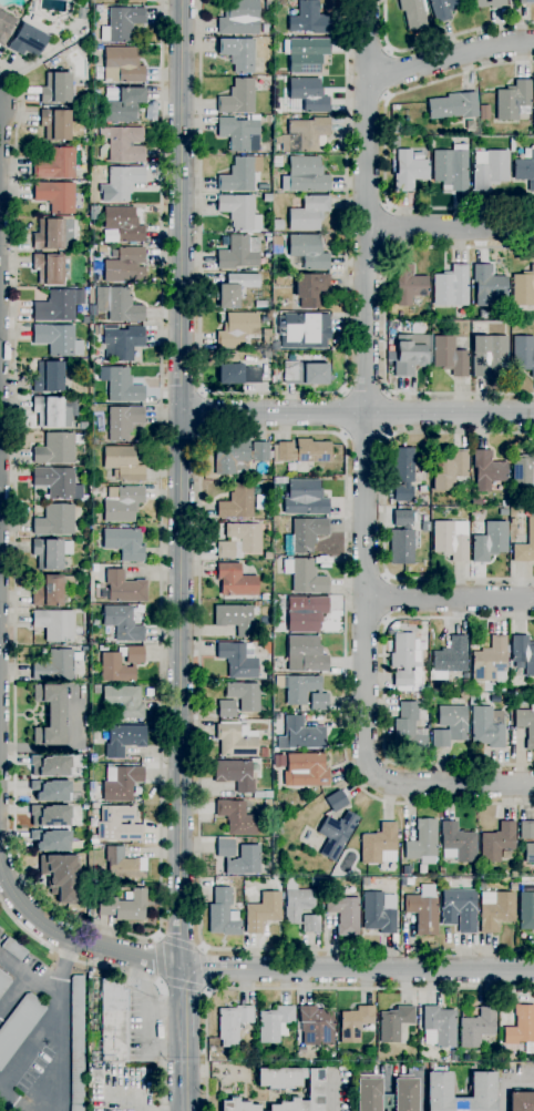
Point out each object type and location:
building: (135, 1)
building: (525, 1)
building: (489, 3)
building: (267, 6)
building: (444, 8)
building: (51, 12)
building: (413, 14)
building: (239, 18)
building: (309, 19)
building: (121, 23)
building: (6, 27)
building: (27, 40)
road: (437, 41)
building: (238, 54)
building: (305, 54)
road: (449, 57)
building: (122, 65)
road: (388, 74)
building: (55, 89)
building: (308, 94)
building: (533, 96)
building: (237, 98)
building: (513, 101)
building: (124, 105)
building: (453, 106)
building: (483, 112)
building: (96, 115)
building: (54, 124)
building: (469, 124)
building: (533, 128)
building: (237, 131)
building: (277, 131)
building: (305, 134)
building: (396, 142)
building: (123, 143)
road: (386, 149)
building: (55, 164)
building: (451, 169)
building: (489, 169)
building: (524, 170)
building: (409, 171)
building: (237, 175)
building: (305, 175)
building: (121, 183)
building: (55, 196)
building: (266, 197)
building: (93, 212)
building: (239, 212)
building: (308, 213)
building: (123, 223)
road: (387, 227)
road: (450, 227)
building: (53, 234)
building: (276, 244)
building: (238, 252)
building: (307, 252)
building: (125, 266)
building: (48, 268)
building: (278, 278)
building: (486, 284)
building: (408, 285)
building: (450, 286)
building: (235, 288)
building: (523, 288)
building: (310, 289)
building: (284, 303)
building: (58, 306)
building: (123, 306)
road: (384, 320)
building: (99, 329)
building: (237, 329)
building: (305, 330)
building: (58, 340)
building: (122, 343)
building: (523, 353)
building: (410, 354)
building: (487, 354)
building: (267, 355)
building: (449, 356)
building: (236, 373)
building: (305, 374)
building: (275, 376)
building: (48, 377)
road: (366, 383)
building: (120, 385)
road: (364, 391)
road: (273, 393)
building: (51, 411)
road: (342, 412)
road: (203, 414)
road: (357, 414)
road: (388, 414)
building: (123, 421)
building: (81, 426)
road: (364, 435)
building: (58, 448)
building: (304, 451)
building: (238, 457)
building: (122, 463)
building: (523, 469)
building: (449, 470)
building: (486, 470)
building: (402, 473)
building: (57, 482)
road: (179, 482)
building: (421, 489)
building: (83, 498)
building: (304, 498)
building: (236, 502)
building: (122, 503)
road: (384, 506)
building: (267, 511)
road: (199, 519)
building: (54, 520)
building: (512, 521)
building: (305, 534)
building: (244, 536)
building: (401, 538)
building: (450, 539)
building: (490, 541)
building: (124, 543)
building: (525, 546)
building: (225, 550)
building: (50, 552)
building: (267, 557)
building: (94, 568)
building: (83, 570)
building: (305, 577)
building: (84, 578)
building: (235, 580)
building: (122, 588)
building: (51, 590)
building: (264, 597)
road: (449, 597)
road: (387, 598)
building: (305, 613)
building: (235, 619)
building: (122, 623)
building: (54, 624)
building: (523, 653)
building: (305, 654)
building: (449, 659)
building: (238, 660)
building: (490, 661)
building: (405, 663)
building: (120, 664)
building: (54, 666)
building: (464, 684)
building: (476, 687)
building: (300, 689)
road: (383, 691)
building: (244, 695)
building: (424, 695)
building: (463, 695)
building: (473, 697)
building: (123, 701)
building: (319, 702)
building: (431, 703)
building: (226, 709)
building: (50, 715)
building: (450, 725)
building: (525, 725)
building: (407, 727)
building: (486, 728)
building: (300, 735)
building: (123, 740)
building: (236, 740)
building: (264, 753)
building: (50, 766)
building: (305, 769)
building: (240, 776)
building: (120, 783)
road: (448, 783)
building: (51, 791)
building: (336, 801)
building: (267, 804)
building: (50, 816)
building: (236, 818)
building: (117, 824)
building: (526, 830)
building: (336, 835)
building: (92, 839)
building: (51, 840)
building: (423, 843)
building: (456, 843)
building: (496, 843)
building: (379, 845)
building: (249, 850)
building: (528, 853)
building: (507, 855)
building: (123, 865)
building: (513, 874)
building: (61, 876)
building: (317, 881)
building: (364, 881)
building: (402, 881)
building: (512, 887)
building: (296, 900)
building: (123, 907)
building: (459, 909)
building: (495, 910)
building: (263, 911)
building: (526, 911)
building: (379, 913)
building: (223, 914)
building: (343, 914)
building: (422, 914)
building: (310, 924)
road: (138, 937)
road: (73, 940)
road: (179, 945)
building: (12, 948)
road: (158, 960)
road: (357, 969)
road: (65, 970)
road: (204, 970)
road: (132, 974)
road: (29, 978)
building: (3, 982)
road: (311, 989)
road: (13, 995)
road: (184, 1005)
building: (113, 1022)
building: (355, 1022)
building: (393, 1022)
building: (233, 1023)
building: (274, 1023)
building: (19, 1026)
building: (315, 1026)
building: (521, 1026)
building: (439, 1027)
building: (477, 1029)
building: (76, 1039)
road: (29, 1042)
building: (258, 1048)
building: (527, 1048)
building: (300, 1050)
road: (58, 1056)
building: (506, 1056)
building: (304, 1073)
road: (184, 1078)
building: (278, 1078)
building: (315, 1088)
road: (135, 1089)
building: (481, 1089)
building: (369, 1091)
road: (11, 1101)
building: (521, 1101)
building: (236, 1105)
building: (75, 1108)
road: (162, 1110)

